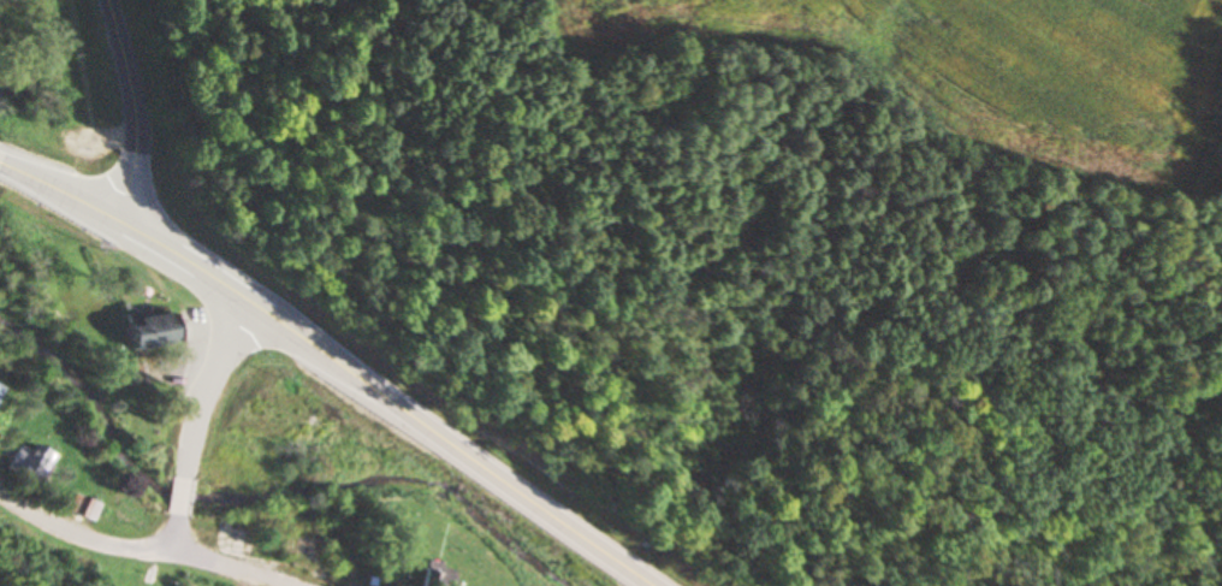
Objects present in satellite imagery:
road: (137, 109)
building: (141, 332)
road: (333, 360)
road: (206, 386)
building: (29, 464)
road: (177, 497)
building: (81, 508)
road: (79, 534)
road: (170, 535)
building: (305, 535)
road: (219, 570)
building: (431, 574)

